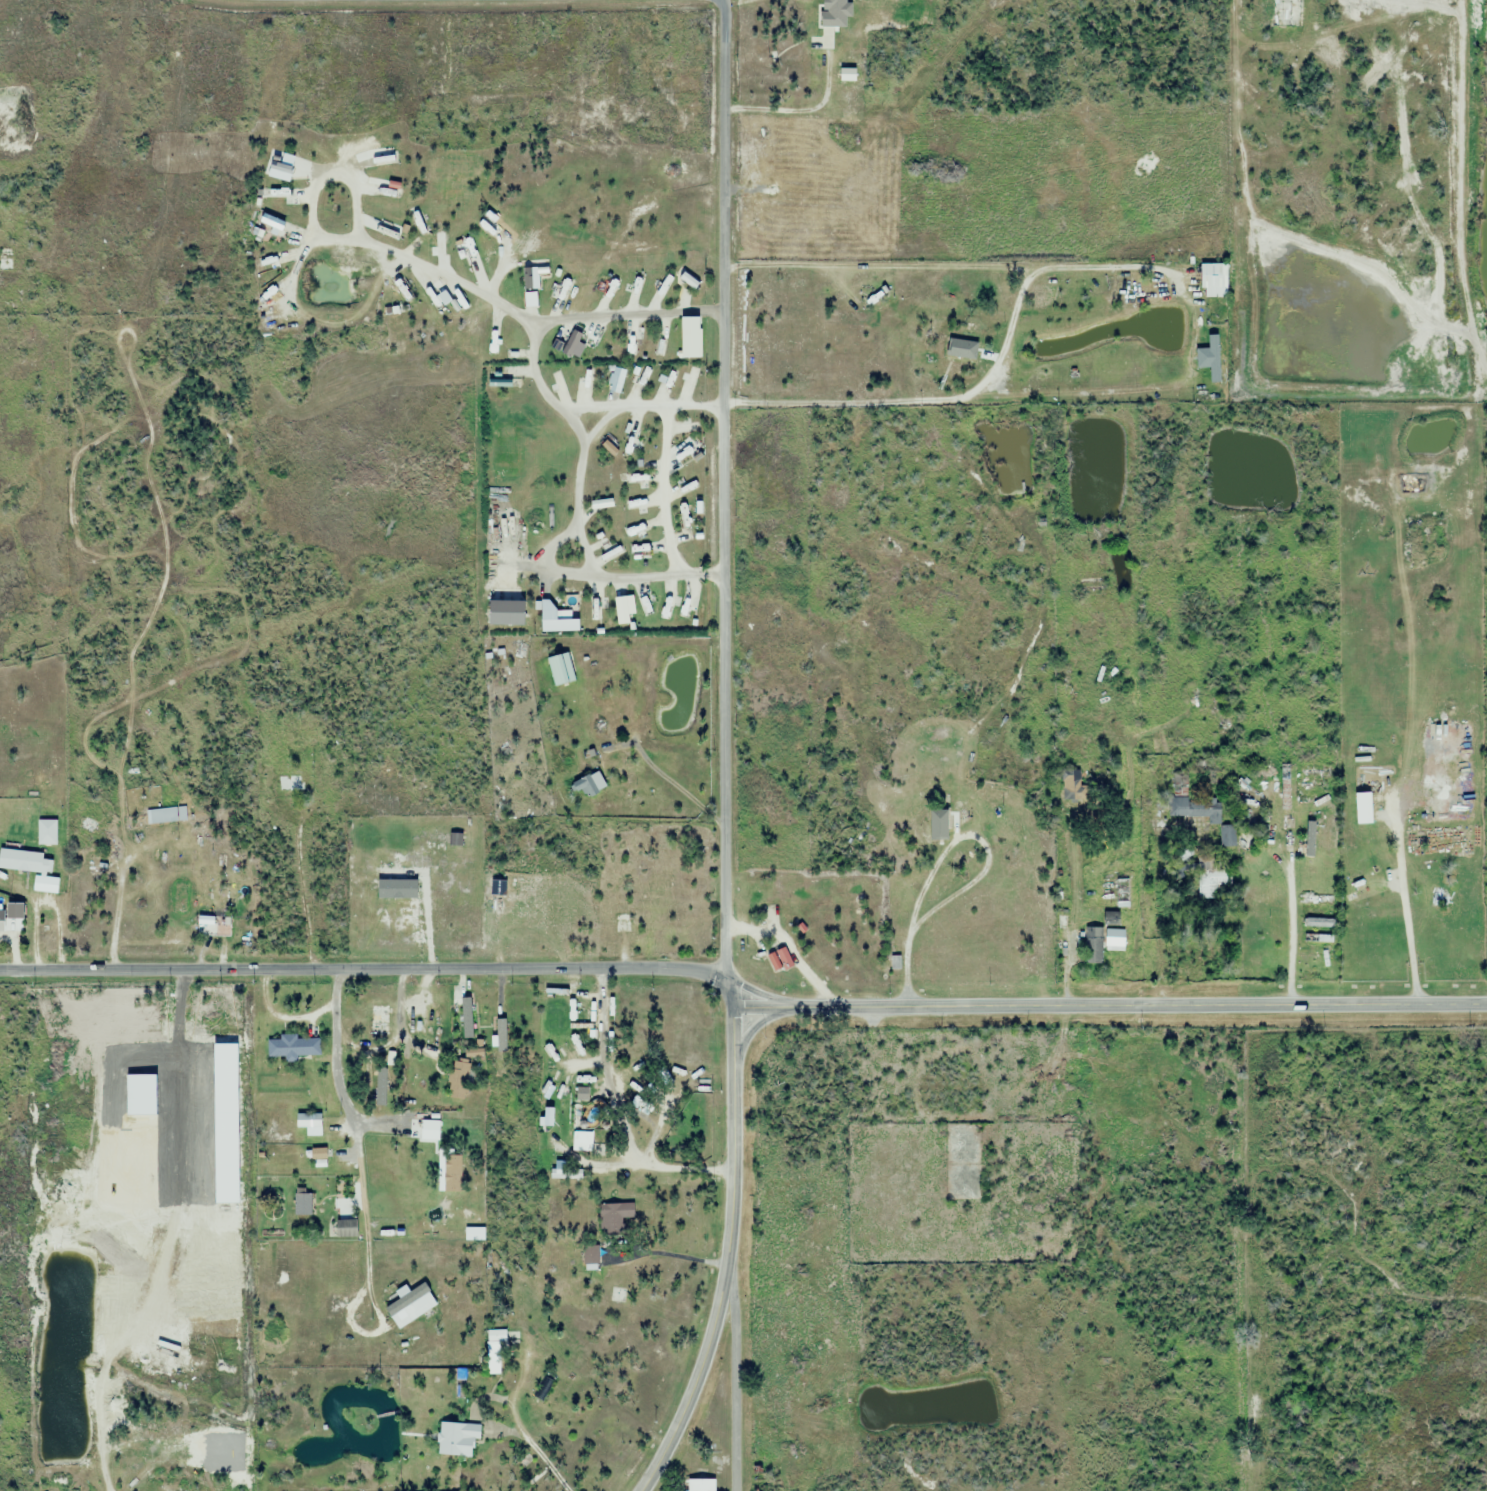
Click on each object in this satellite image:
building: (819, 1)
building: (1243, 13)
building: (1282, 13)
building: (581, 143)
road: (396, 253)
building: (6, 260)
building: (1213, 280)
building: (965, 345)
building: (1212, 358)
road: (531, 360)
road: (576, 423)
road: (578, 486)
road: (722, 486)
road: (662, 491)
road: (553, 544)
road: (614, 576)
building: (503, 615)
building: (560, 619)
building: (561, 670)
building: (36, 728)
building: (1178, 782)
building: (290, 784)
building: (589, 785)
building: (1072, 785)
building: (1363, 808)
building: (1192, 809)
building: (160, 816)
building: (939, 825)
building: (1310, 843)
road: (939, 845)
building: (20, 861)
building: (1212, 875)
building: (499, 889)
road: (39, 894)
building: (528, 895)
building: (656, 898)
building: (1316, 899)
building: (1119, 903)
road: (116, 910)
building: (1319, 921)
building: (1, 924)
building: (213, 925)
building: (1115, 937)
building: (1318, 939)
building: (1093, 945)
building: (895, 962)
road: (360, 968)
road: (724, 991)
building: (459, 1000)
road: (1107, 1007)
building: (379, 1019)
building: (462, 1019)
building: (588, 1028)
building: (292, 1047)
building: (459, 1075)
building: (573, 1104)
building: (452, 1172)
building: (617, 1215)
building: (345, 1228)
road: (726, 1259)
building: (497, 1352)
road: (731, 1375)
building: (458, 1439)
building: (698, 1485)

